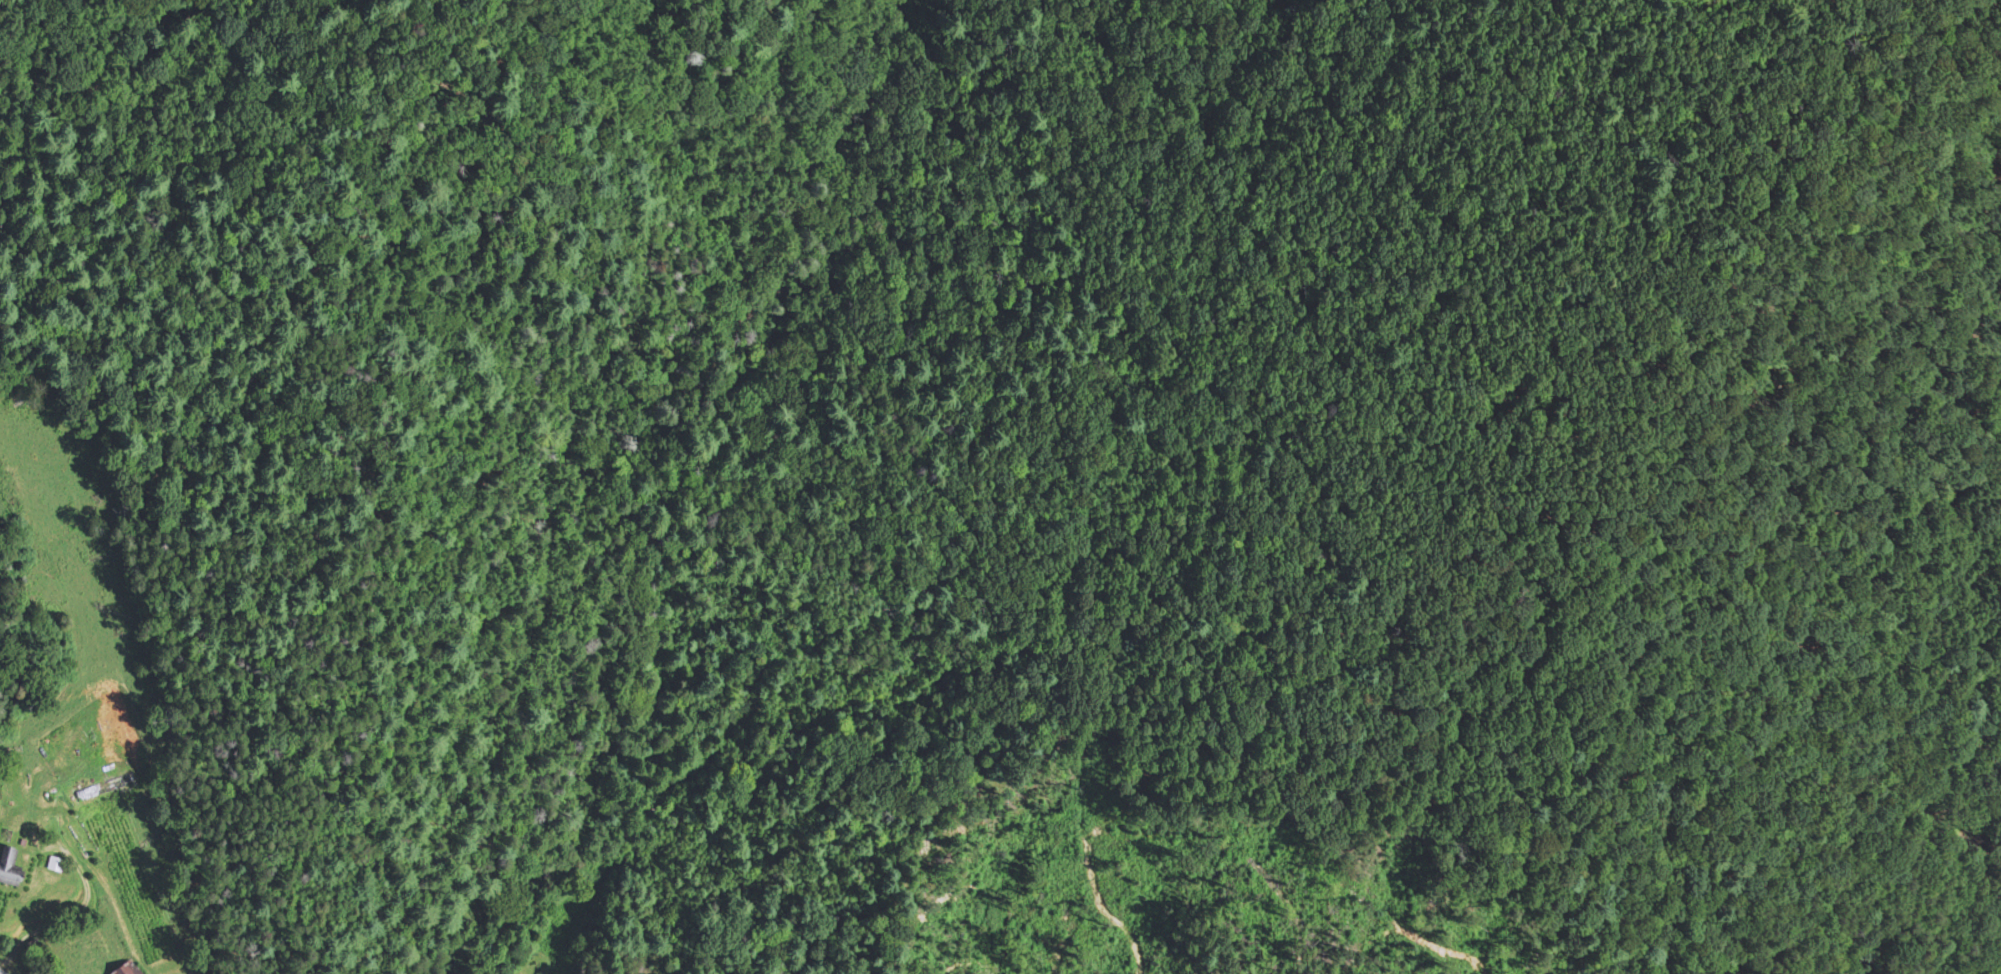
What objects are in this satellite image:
building: (6, 868)
building: (120, 968)
road: (0, 973)

